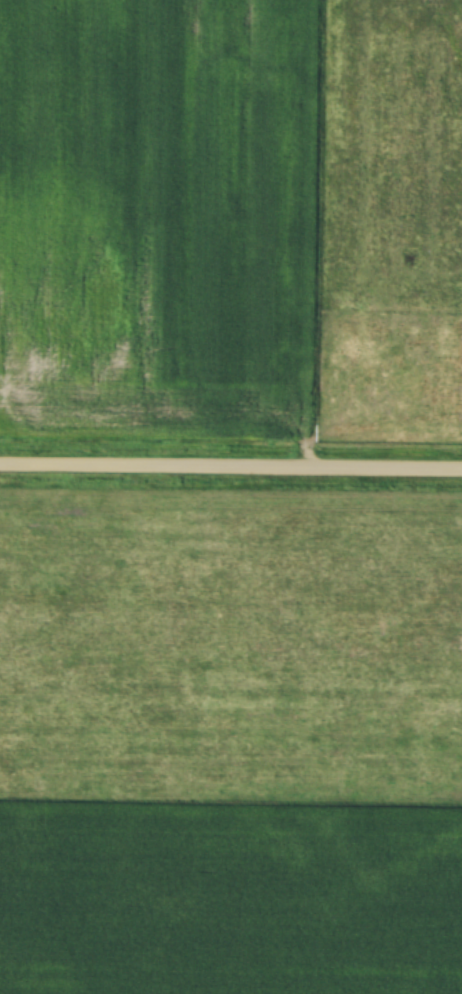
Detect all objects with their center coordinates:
road: (231, 464)

